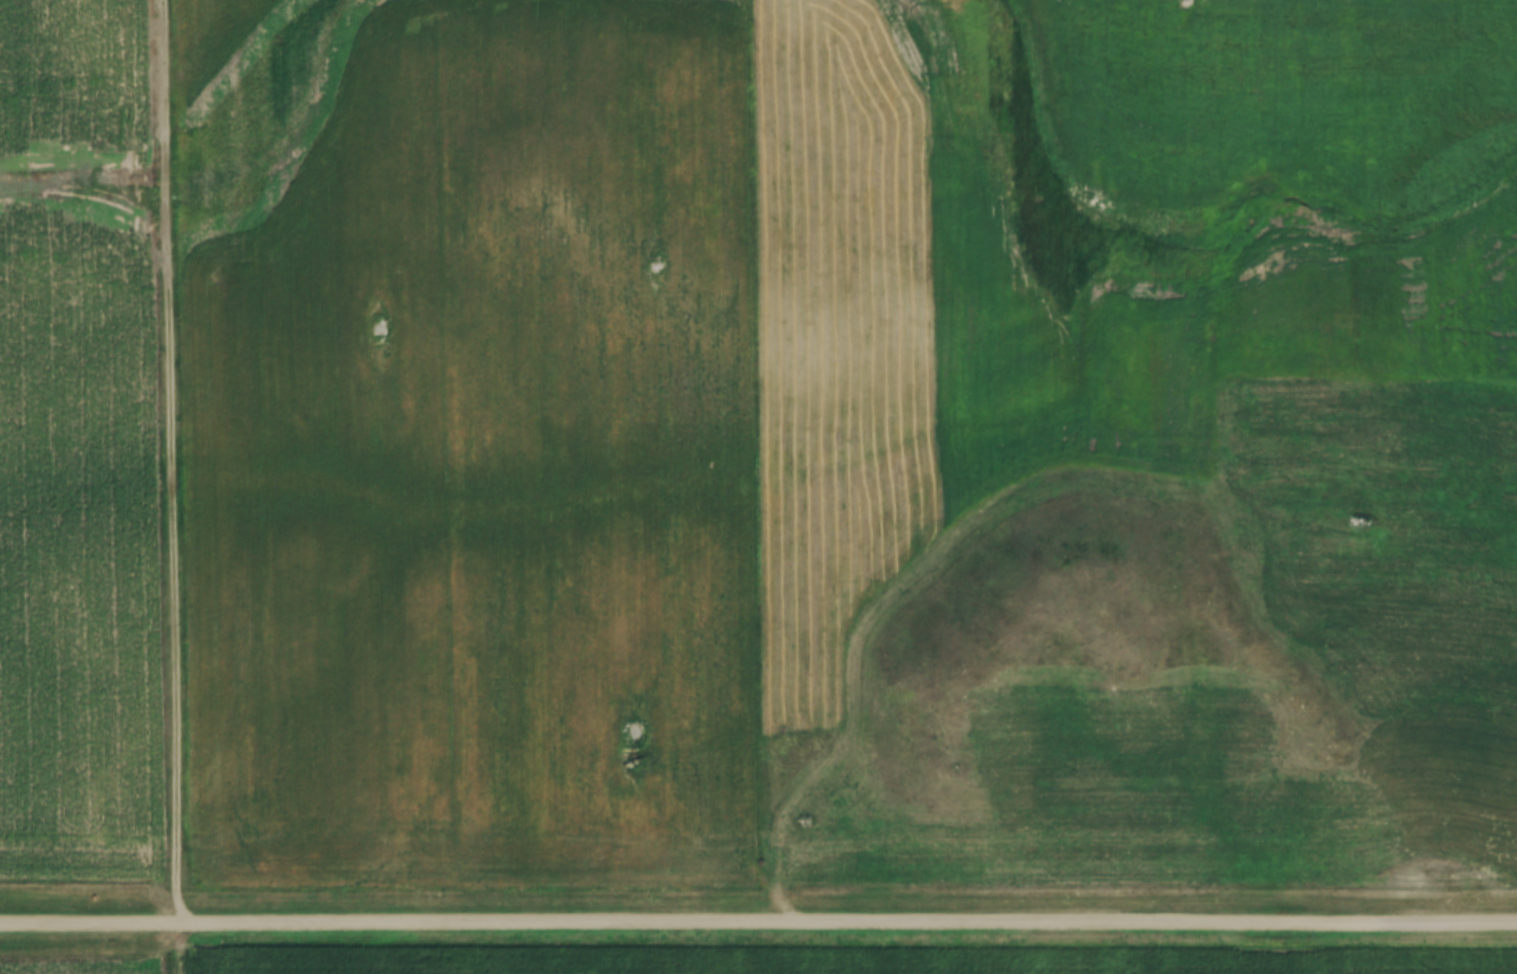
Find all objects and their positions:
road: (1402, 301)
road: (1396, 373)
road: (171, 487)
road: (758, 920)

